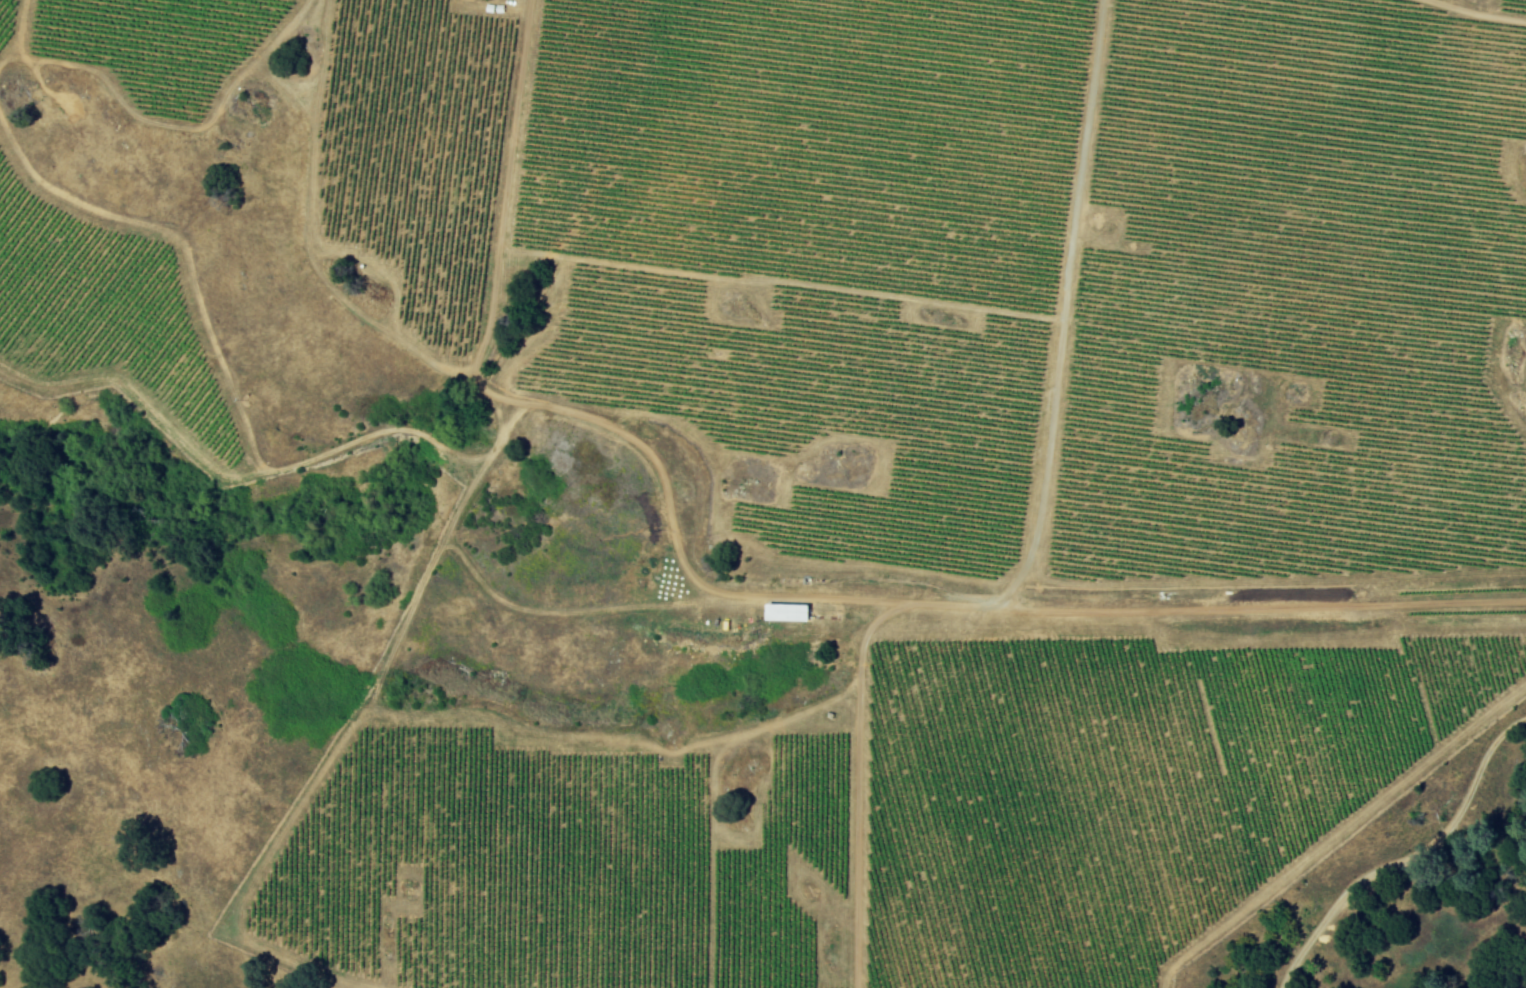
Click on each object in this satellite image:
road: (1046, 446)
crop: (949, 460)
building: (790, 612)
road: (1408, 858)

